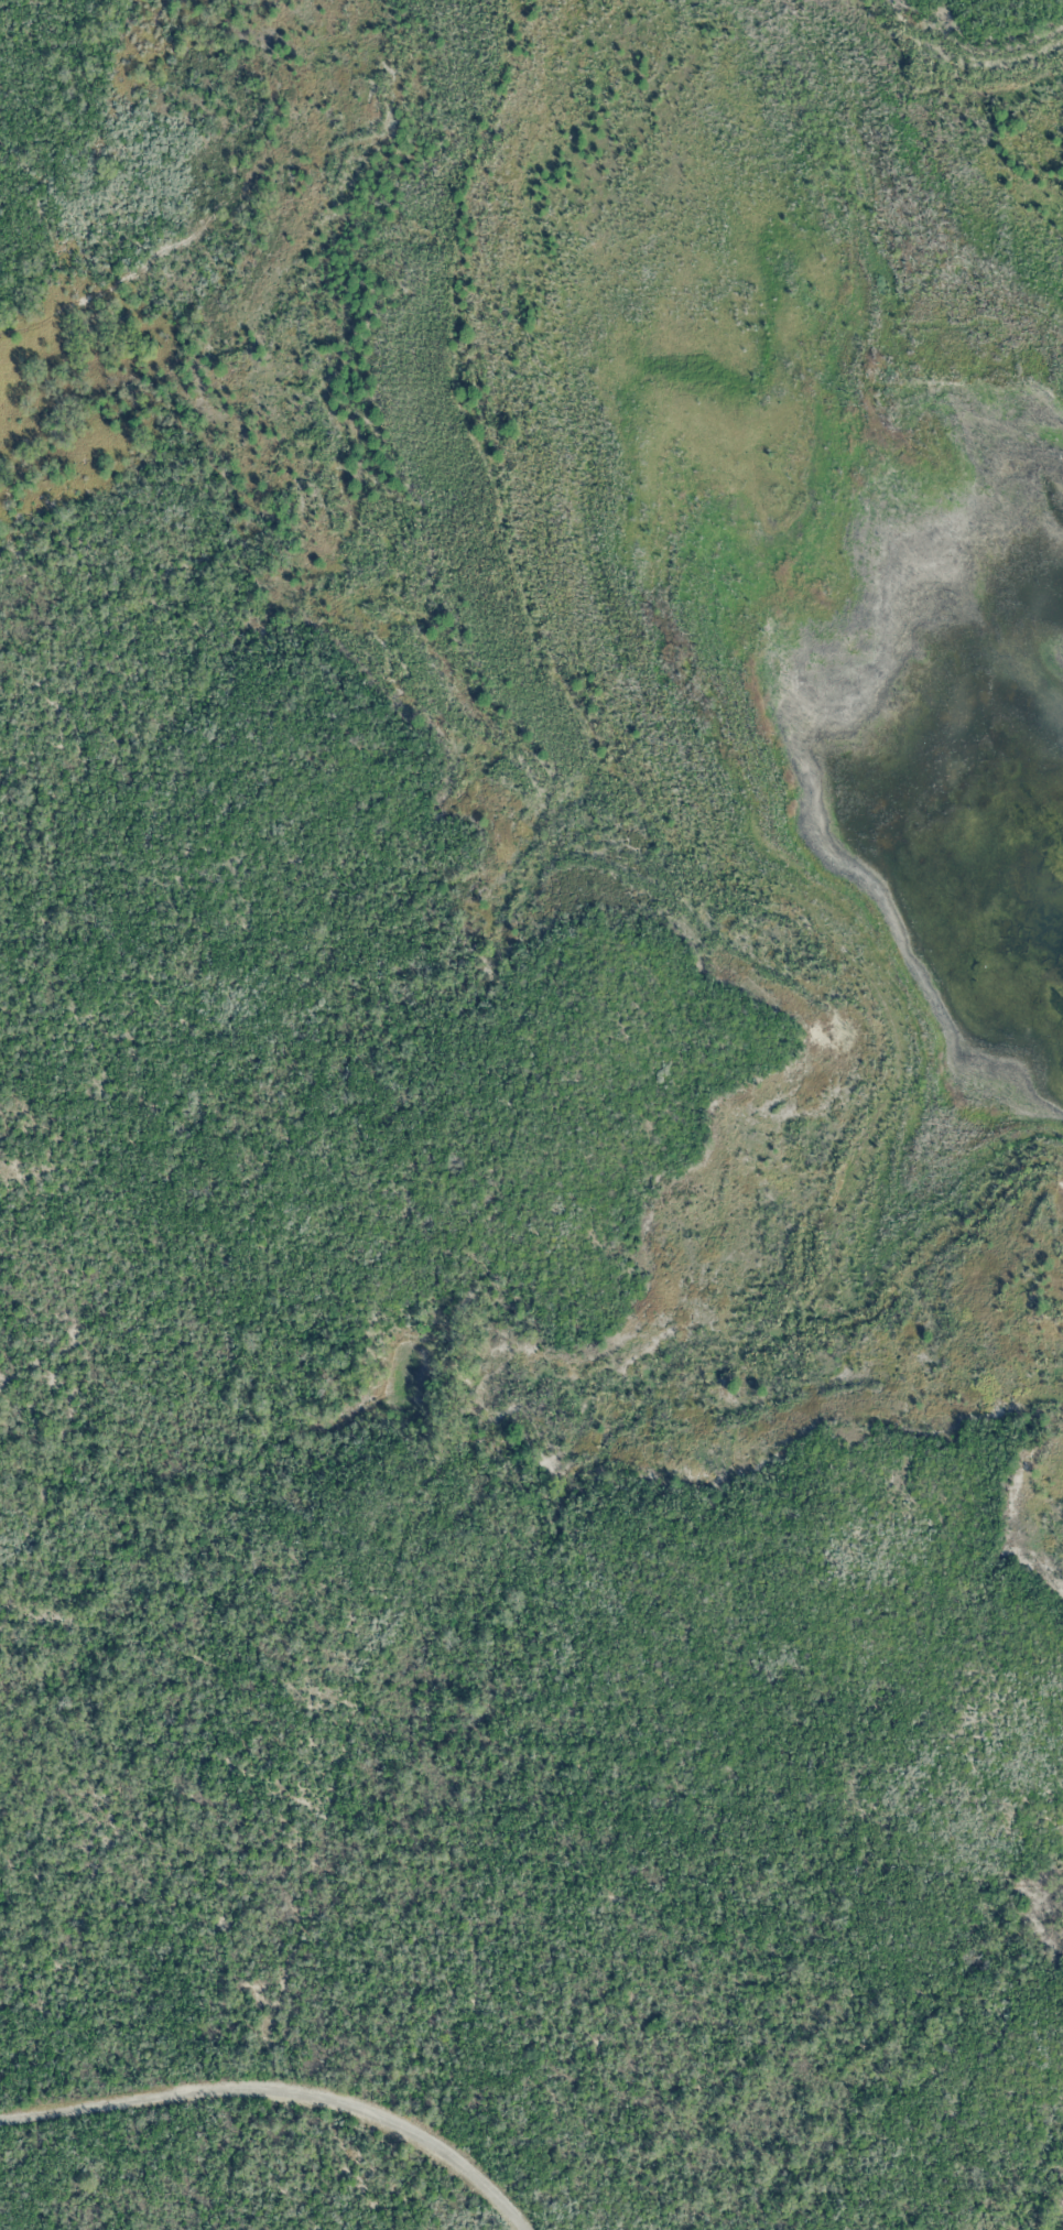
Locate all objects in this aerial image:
road: (282, 2092)

